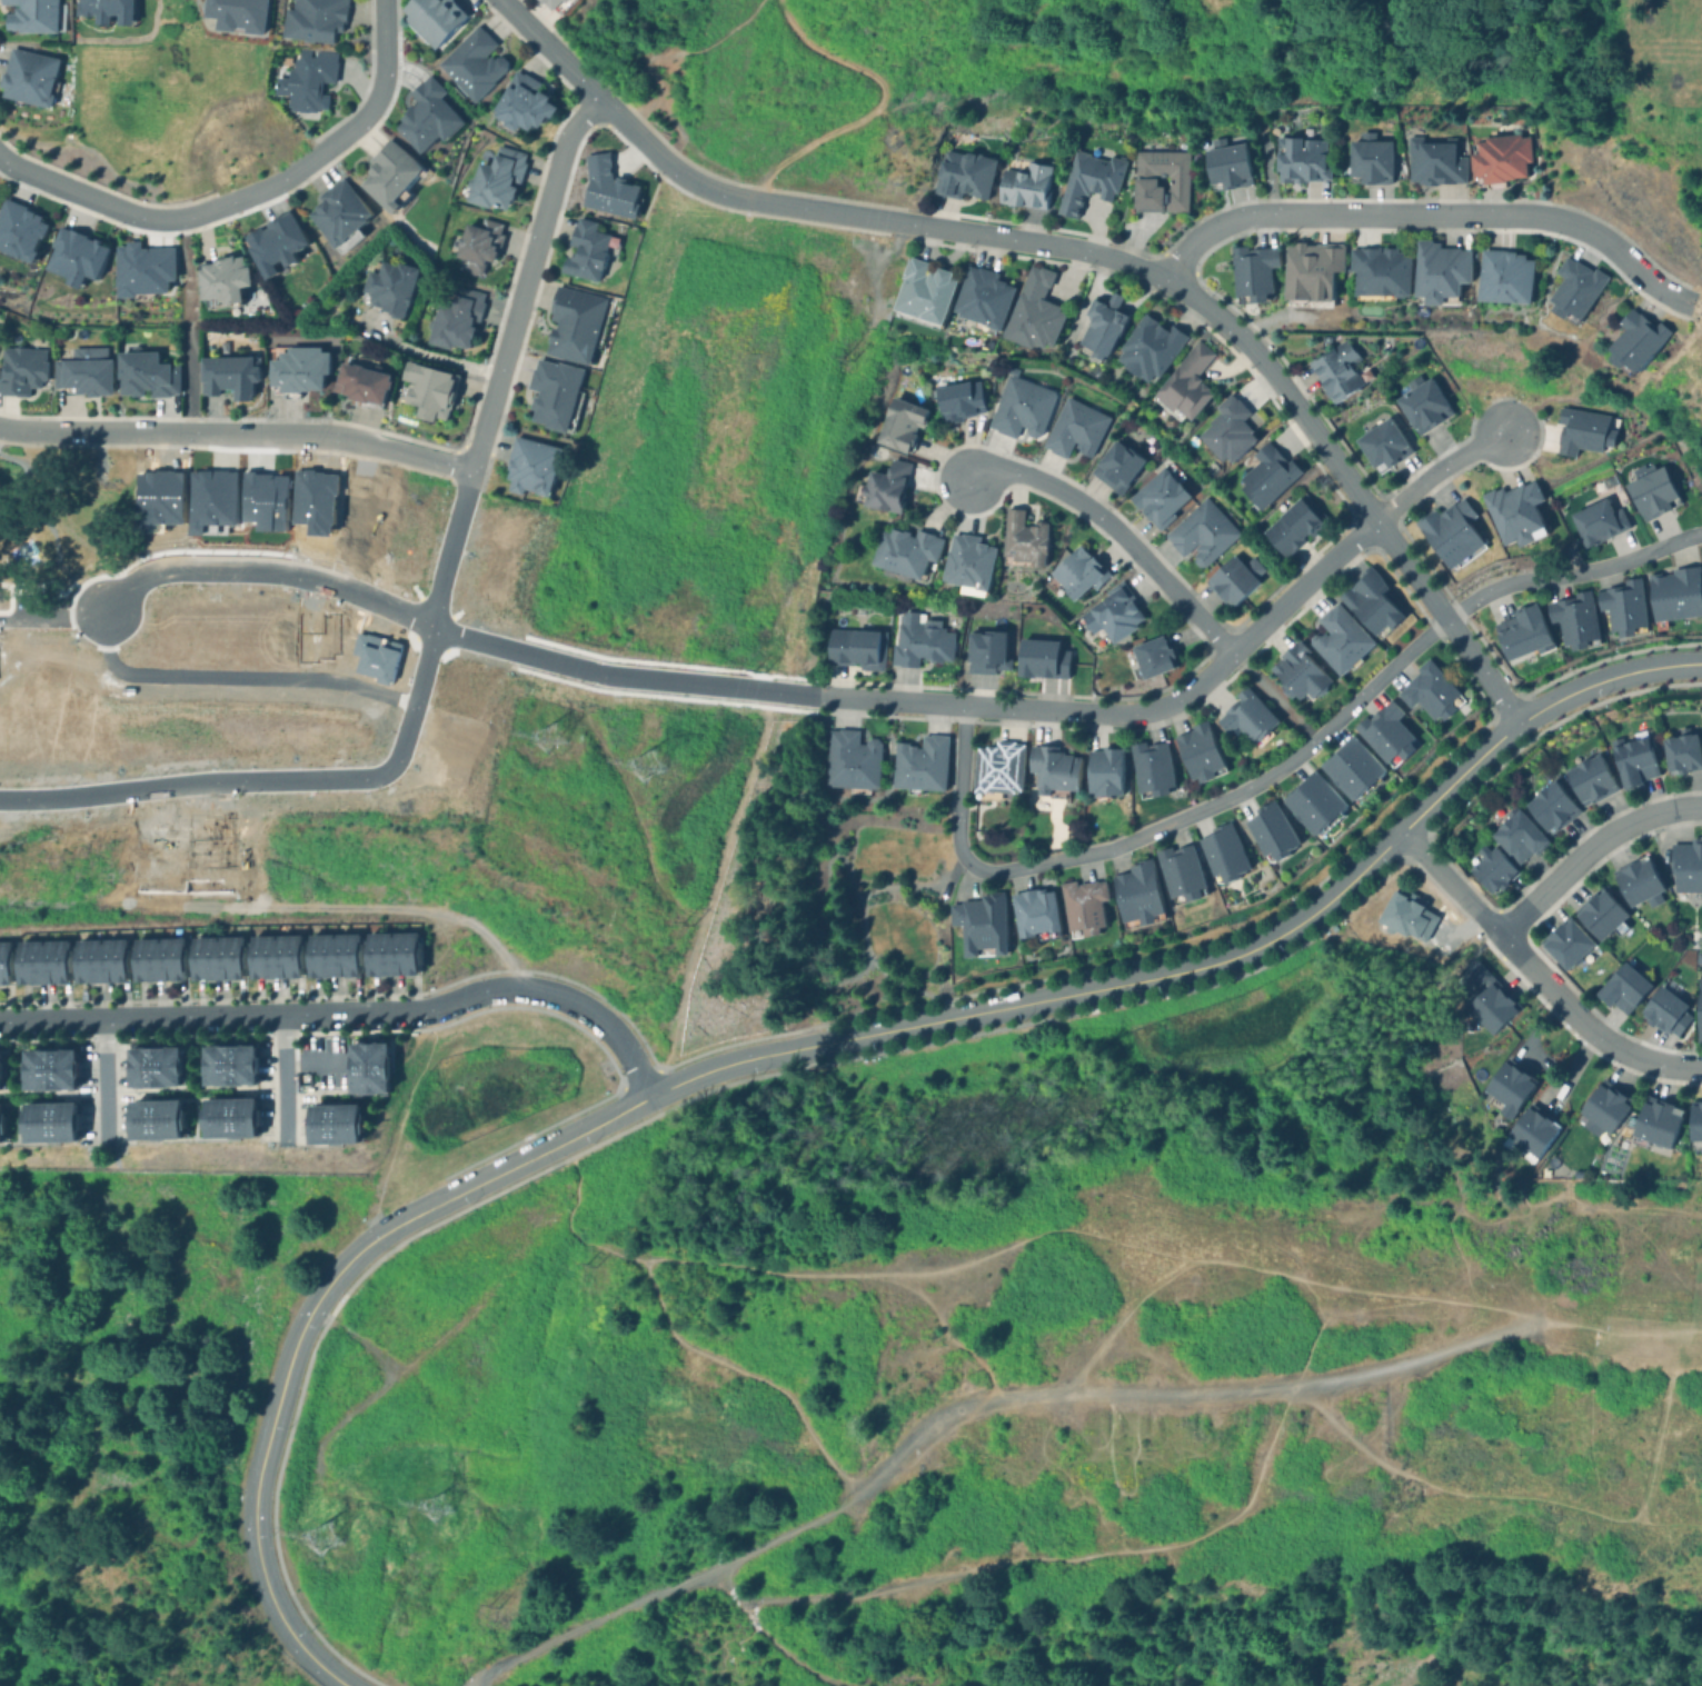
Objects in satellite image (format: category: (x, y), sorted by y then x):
building: (555, 3)
building: (108, 10)
building: (238, 14)
building: (32, 16)
building: (435, 18)
building: (315, 19)
building: (475, 62)
building: (29, 77)
building: (308, 79)
building: (525, 102)
park: (146, 106)
building: (428, 116)
road: (638, 137)
road: (326, 149)
building: (1297, 156)
building: (1367, 159)
building: (1495, 159)
building: (1433, 160)
building: (1224, 163)
building: (391, 173)
building: (962, 173)
building: (499, 178)
building: (1085, 179)
building: (1157, 179)
building: (1025, 184)
building: (609, 187)
road: (82, 192)
building: (340, 211)
road: (1429, 212)
building: (21, 230)
building: (277, 243)
building: (479, 245)
building: (588, 250)
building: (78, 256)
building: (143, 268)
building: (1250, 269)
building: (1436, 270)
building: (1312, 272)
building: (1380, 272)
building: (1502, 276)
building: (223, 279)
building: (390, 287)
building: (1573, 287)
building: (923, 292)
building: (982, 297)
building: (1033, 310)
building: (457, 318)
building: (576, 323)
building: (1096, 323)
road: (187, 326)
building: (1636, 341)
road: (1248, 343)
building: (1148, 347)
road: (430, 353)
building: (300, 368)
building: (22, 369)
building: (1338, 370)
building: (148, 373)
building: (86, 375)
building: (229, 375)
building: (362, 382)
building: (1181, 383)
building: (430, 389)
building: (555, 392)
building: (956, 399)
building: (1420, 402)
building: (1017, 405)
building: (899, 422)
building: (1073, 427)
building: (1226, 427)
building: (1582, 429)
road: (2, 430)
road: (239, 432)
road: (486, 432)
building: (1380, 442)
building: (533, 466)
building: (1116, 466)
road: (1437, 468)
building: (1266, 476)
building: (1606, 480)
building: (882, 485)
building: (1650, 491)
building: (1159, 497)
building: (1514, 513)
building: (1595, 520)
building: (1292, 523)
road: (60, 531)
road: (1117, 531)
building: (1201, 531)
building: (1449, 531)
park: (57, 532)
building: (1021, 539)
building: (900, 550)
building: (969, 562)
building: (1076, 573)
road: (267, 578)
building: (1233, 578)
building: (1673, 593)
building: (1367, 601)
building: (1622, 606)
building: (1111, 613)
building: (1572, 619)
road: (52, 622)
building: (1520, 631)
building: (915, 640)
building: (1338, 640)
building: (854, 647)
building: (985, 650)
building: (1151, 657)
building: (1039, 658)
building: (1296, 671)
road: (238, 680)
building: (1430, 691)
road: (1273, 695)
road: (937, 701)
building: (1246, 717)
building: (1384, 735)
building: (1679, 750)
building: (1197, 751)
power tower: (539, 757)
building: (1631, 758)
building: (855, 760)
building: (918, 764)
building: (996, 767)
building: (1148, 767)
road: (1282, 767)
building: (1350, 768)
building: (1052, 769)
building: (1103, 771)
power tower: (638, 776)
building: (1587, 778)
road: (196, 790)
building: (1311, 802)
building: (1549, 807)
building: (1270, 831)
building: (1515, 835)
road: (1589, 848)
building: (1221, 852)
building: (1685, 866)
building: (1490, 869)
building: (1176, 870)
building: (1638, 881)
road: (708, 889)
building: (1135, 894)
building: (1079, 905)
building: (1035, 914)
building: (1599, 914)
building: (979, 925)
building: (1565, 942)
building: (394, 952)
building: (336, 955)
building: (278, 956)
building: (1698, 956)
building: (219, 957)
building: (161, 959)
building: (103, 960)
building: (44, 961)
building: (6, 966)
road: (1536, 975)
building: (1621, 988)
road: (1101, 989)
building: (1485, 997)
building: (1663, 1009)
building: (1698, 1009)
road: (352, 1015)
building: (231, 1065)
building: (157, 1066)
building: (2, 1067)
building: (371, 1067)
building: (51, 1068)
road: (286, 1080)
road: (106, 1085)
building: (1509, 1087)
building: (1600, 1108)
building: (232, 1117)
building: (158, 1118)
building: (52, 1121)
building: (2, 1123)
building: (339, 1123)
building: (1694, 1123)
building: (1651, 1126)
building: (1530, 1133)
road: (269, 1426)
power tower: (435, 1520)
power tower: (315, 1553)

